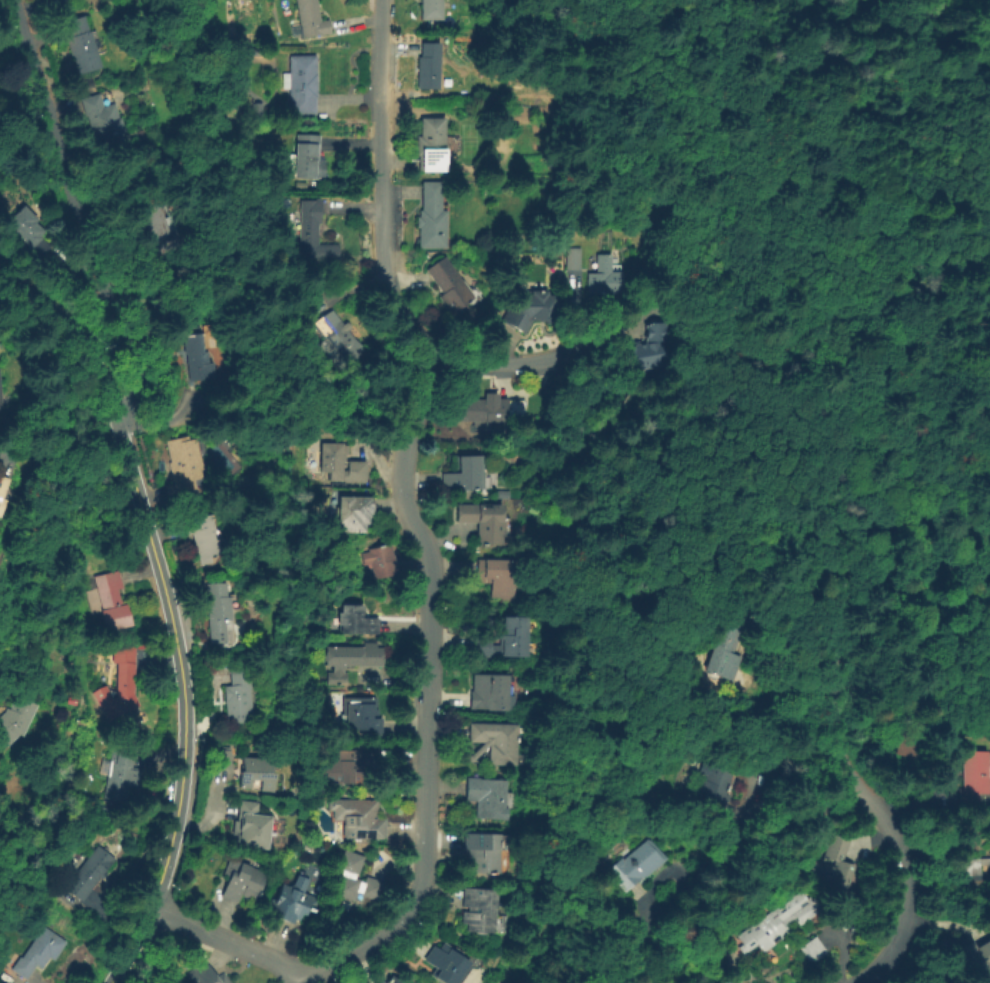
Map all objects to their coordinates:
road: (723, 7)
building: (432, 9)
road: (727, 19)
building: (308, 20)
building: (81, 43)
building: (430, 65)
building: (303, 82)
road: (749, 99)
building: (259, 109)
building: (104, 121)
building: (435, 144)
road: (915, 154)
building: (306, 157)
road: (381, 187)
road: (80, 214)
building: (433, 215)
building: (30, 229)
building: (159, 229)
building: (315, 231)
building: (577, 258)
road: (678, 261)
road: (772, 267)
building: (608, 277)
building: (449, 285)
building: (531, 311)
building: (338, 335)
building: (655, 349)
building: (197, 357)
road: (97, 366)
road: (699, 378)
building: (492, 409)
road: (799, 417)
building: (185, 464)
building: (339, 465)
building: (466, 474)
building: (4, 492)
building: (505, 494)
building: (356, 513)
building: (486, 522)
building: (204, 536)
road: (57, 557)
building: (379, 563)
road: (915, 575)
building: (499, 577)
building: (112, 602)
building: (218, 610)
road: (843, 619)
building: (356, 620)
building: (501, 640)
building: (729, 648)
building: (352, 659)
building: (121, 683)
road: (795, 683)
road: (428, 688)
building: (490, 692)
building: (241, 694)
road: (181, 702)
building: (365, 715)
building: (14, 717)
road: (831, 727)
building: (522, 731)
building: (915, 740)
building: (495, 742)
building: (224, 758)
building: (521, 758)
building: (348, 765)
building: (121, 770)
building: (257, 771)
building: (977, 779)
building: (717, 788)
building: (490, 797)
building: (361, 817)
building: (251, 829)
building: (484, 853)
road: (903, 861)
building: (636, 863)
building: (836, 863)
building: (968, 870)
building: (92, 873)
building: (356, 878)
building: (244, 881)
building: (293, 901)
building: (480, 909)
building: (782, 918)
building: (499, 923)
road: (135, 932)
road: (230, 942)
building: (815, 947)
building: (41, 951)
building: (447, 963)
building: (973, 963)
road: (114, 970)
building: (209, 974)
building: (393, 980)
road: (310, 982)
building: (382, 982)

